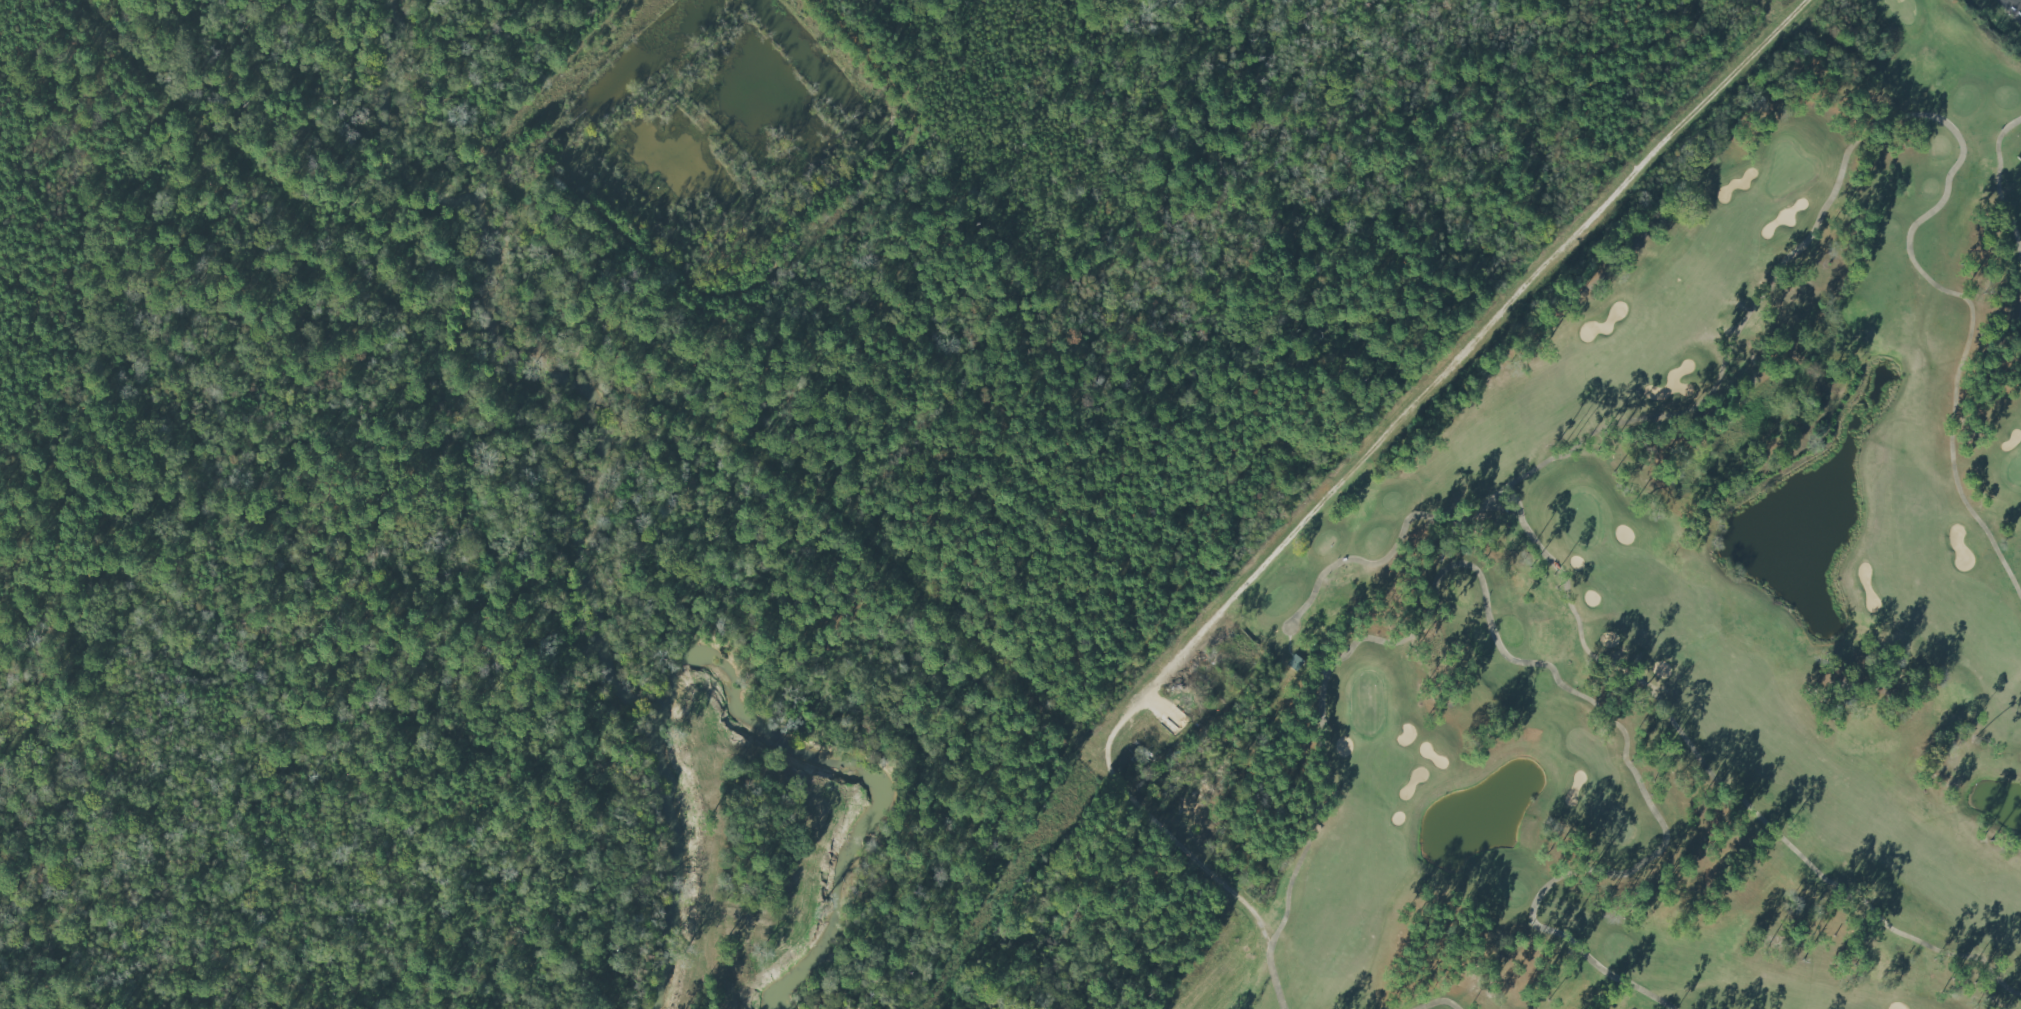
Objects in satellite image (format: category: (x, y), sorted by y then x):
road: (2018, 1)
building: (2018, 157)
road: (1443, 371)
park: (1566, 595)
river: (737, 695)

